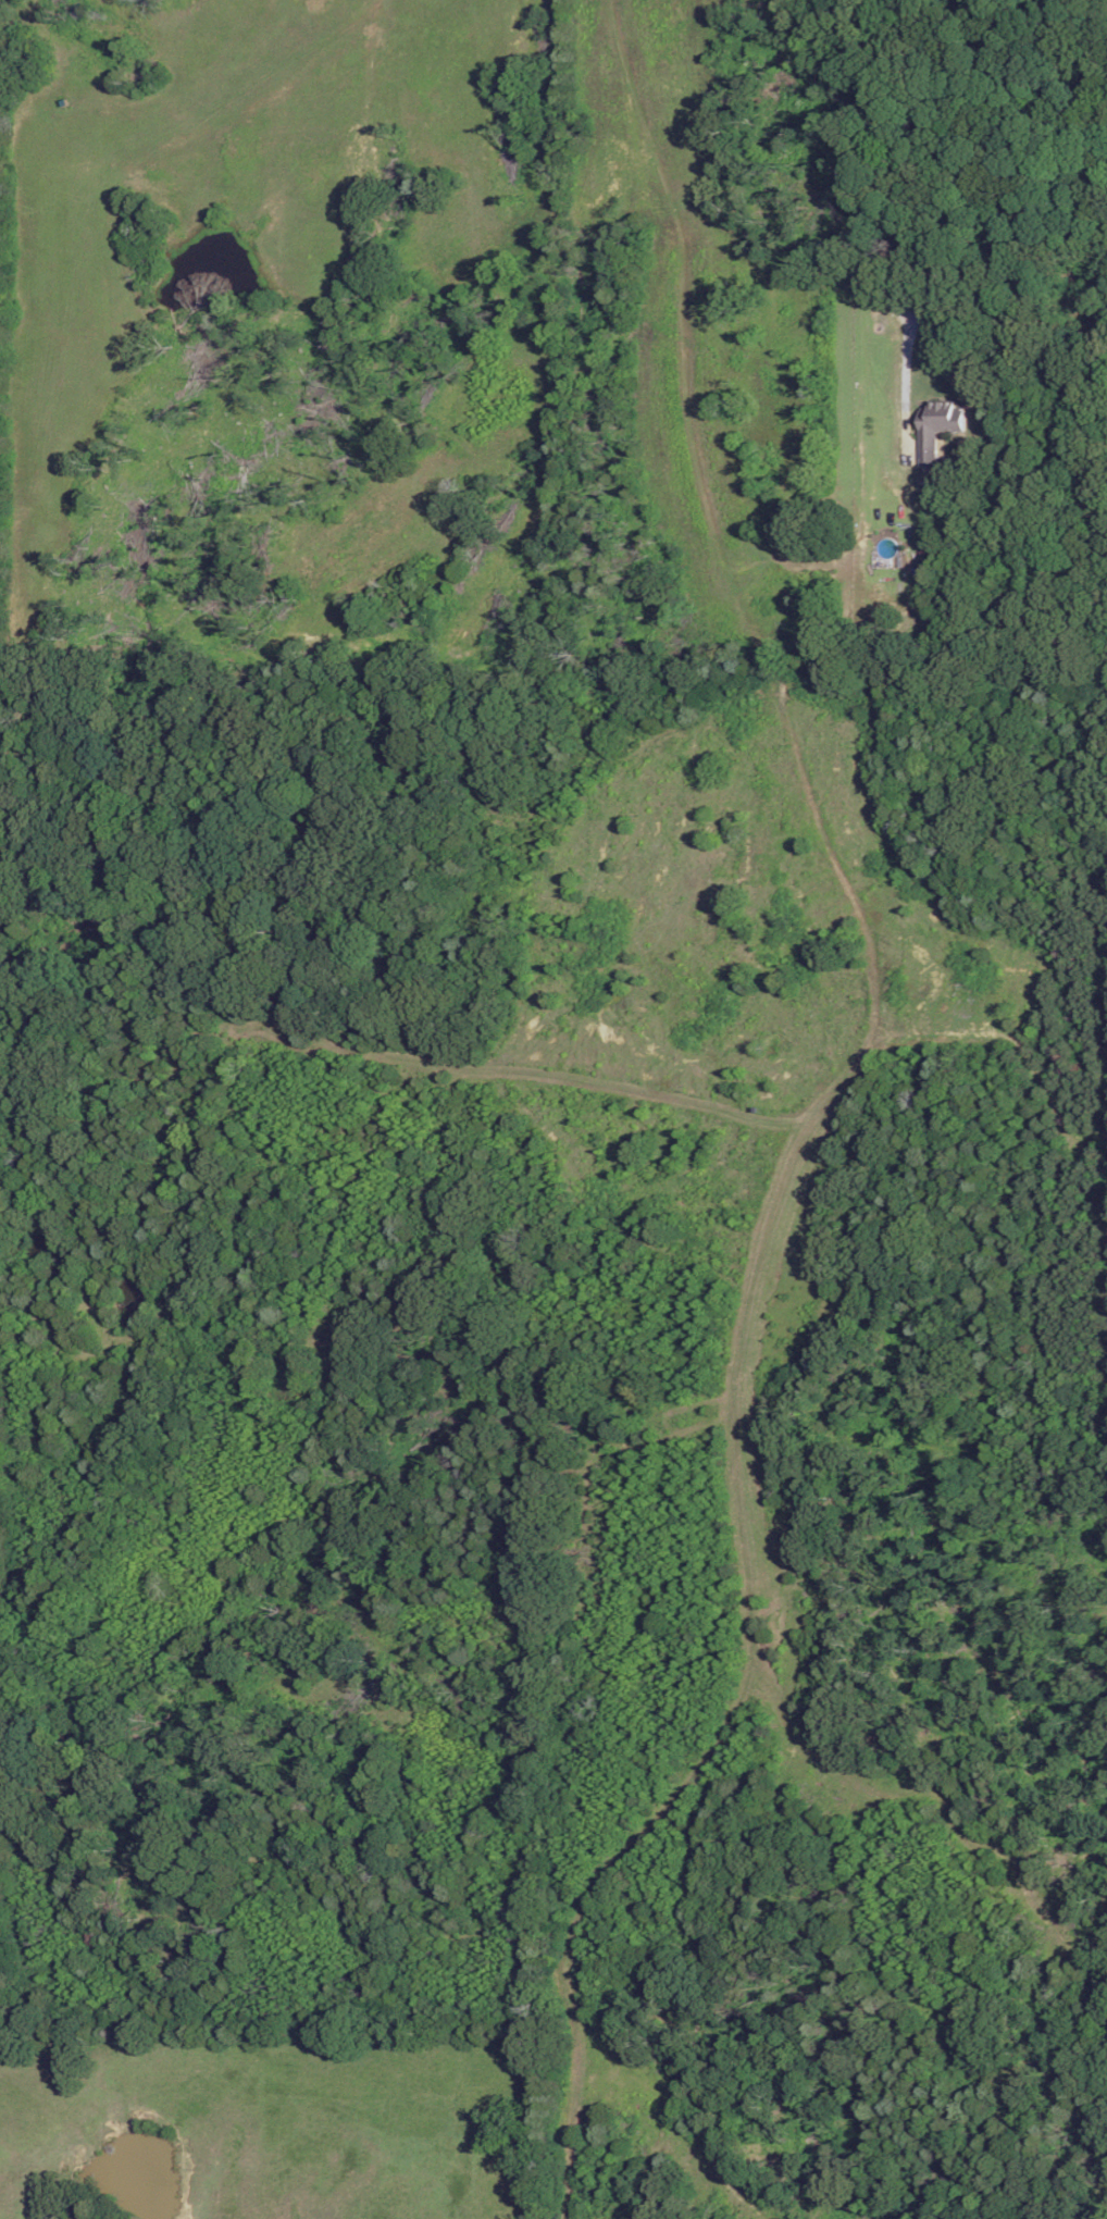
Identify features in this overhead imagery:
building: (940, 422)

